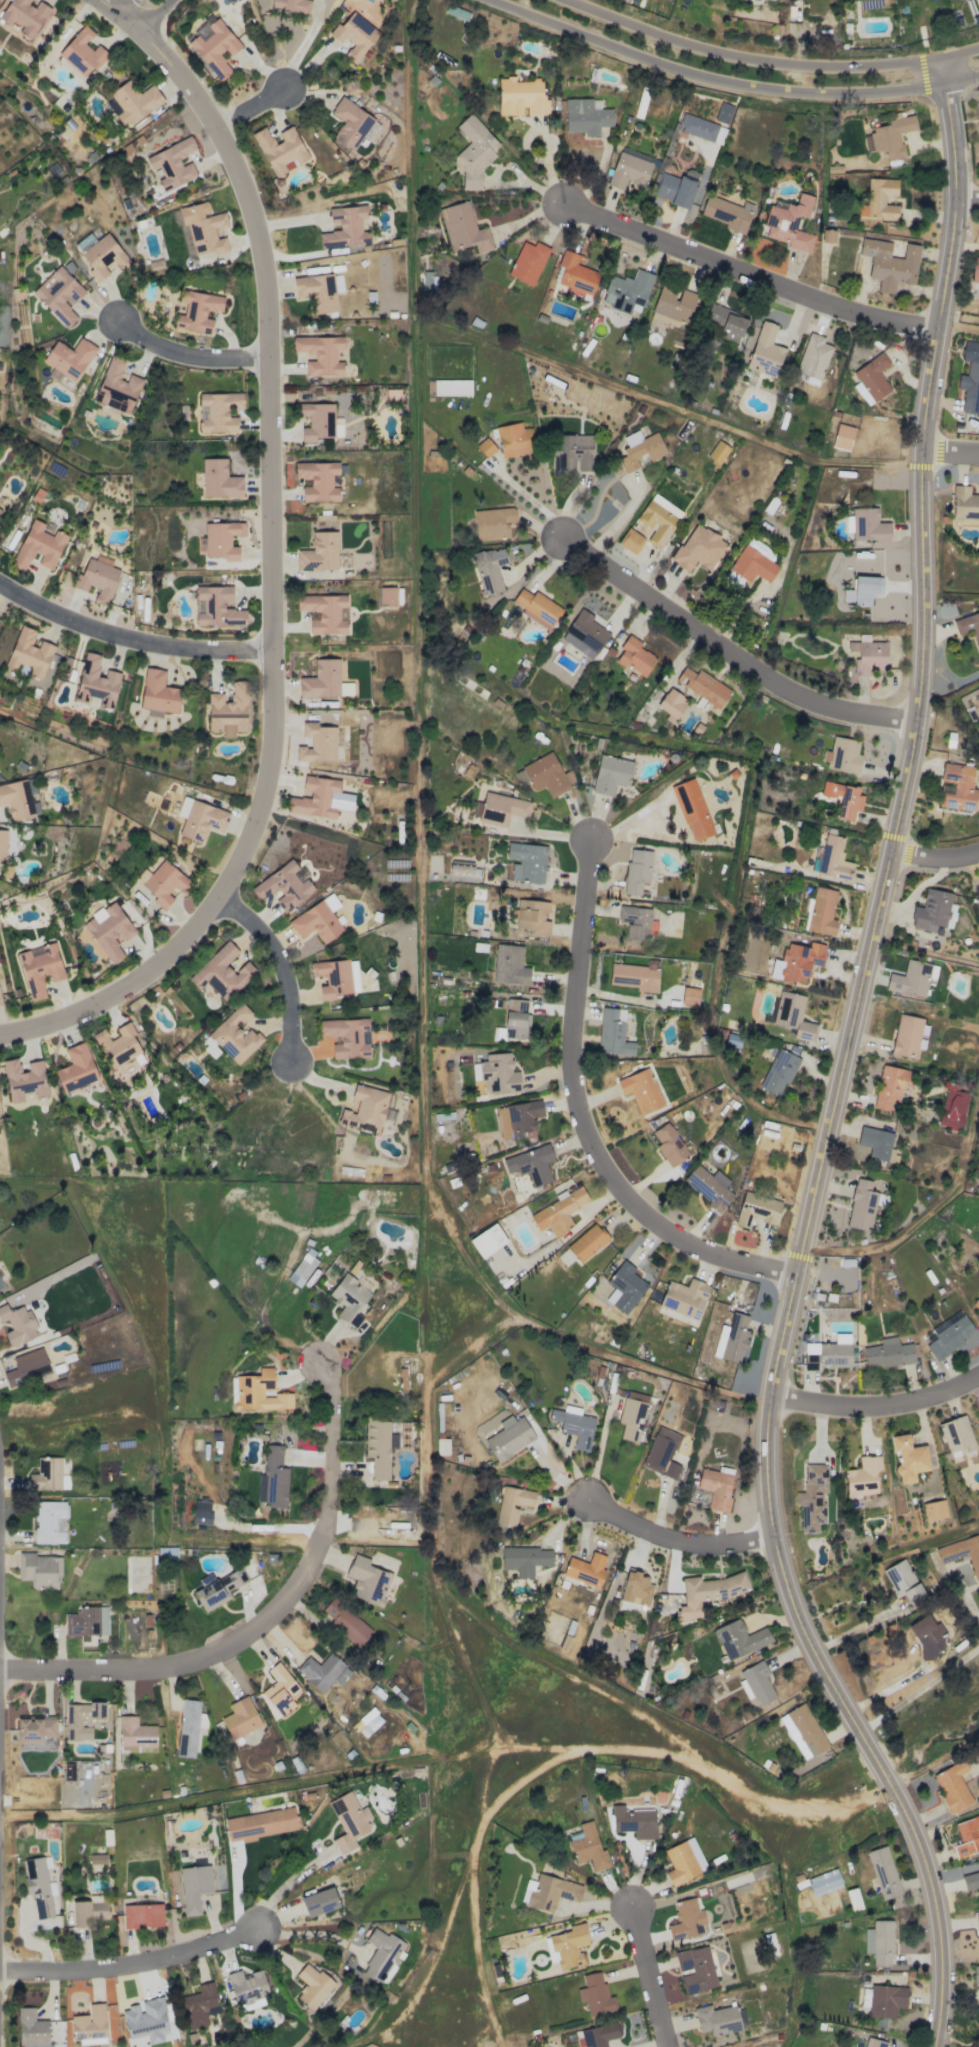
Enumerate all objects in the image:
building: (292, 5)
road: (125, 7)
building: (25, 15)
road: (119, 15)
road: (156, 16)
building: (354, 35)
road: (303, 45)
building: (215, 48)
building: (81, 53)
road: (775, 58)
road: (730, 82)
building: (520, 97)
building: (134, 102)
road: (253, 109)
building: (723, 111)
building: (585, 116)
building: (350, 123)
building: (467, 125)
building: (697, 127)
building: (889, 136)
road: (543, 141)
building: (280, 150)
building: (173, 163)
building: (628, 171)
road: (515, 172)
building: (676, 187)
road: (966, 198)
building: (879, 199)
building: (726, 214)
building: (788, 222)
building: (346, 227)
building: (203, 228)
building: (463, 228)
building: (827, 236)
building: (104, 257)
building: (527, 262)
building: (889, 264)
building: (975, 269)
road: (749, 272)
building: (575, 273)
building: (317, 291)
building: (627, 291)
building: (59, 295)
building: (673, 306)
building: (197, 311)
building: (726, 322)
building: (765, 350)
building: (320, 354)
building: (812, 356)
road: (191, 357)
building: (69, 358)
building: (871, 379)
building: (117, 387)
building: (451, 387)
building: (392, 394)
building: (220, 411)
building: (316, 420)
building: (842, 437)
building: (514, 439)
building: (485, 447)
building: (640, 449)
road: (950, 450)
building: (717, 451)
building: (575, 454)
building: (219, 479)
building: (318, 480)
building: (964, 503)
road: (527, 507)
building: (0, 509)
building: (658, 520)
building: (492, 523)
building: (868, 525)
building: (222, 539)
building: (630, 540)
building: (38, 546)
building: (698, 549)
building: (761, 549)
building: (319, 552)
building: (752, 565)
building: (489, 569)
building: (97, 580)
road: (272, 587)
building: (862, 590)
building: (387, 596)
building: (216, 606)
building: (537, 608)
building: (324, 612)
building: (968, 626)
building: (584, 634)
road: (130, 639)
road: (730, 651)
building: (29, 653)
building: (634, 656)
building: (868, 656)
building: (324, 681)
building: (96, 682)
building: (703, 686)
building: (158, 692)
building: (671, 702)
building: (228, 710)
building: (317, 743)
building: (844, 755)
building: (610, 774)
building: (547, 775)
building: (956, 787)
building: (18, 798)
building: (320, 798)
building: (843, 798)
building: (499, 808)
building: (692, 809)
building: (200, 819)
road: (545, 834)
building: (2, 846)
road: (933, 857)
building: (833, 858)
building: (460, 860)
building: (526, 862)
building: (461, 869)
building: (637, 870)
building: (164, 883)
building: (282, 887)
building: (821, 911)
building: (933, 911)
building: (532, 916)
building: (634, 921)
building: (316, 922)
building: (109, 931)
building: (799, 961)
building: (509, 965)
building: (39, 968)
road: (283, 971)
building: (221, 972)
building: (636, 975)
building: (353, 976)
building: (332, 977)
building: (910, 979)
building: (689, 996)
building: (0, 1003)
building: (793, 1015)
building: (516, 1019)
building: (907, 1031)
building: (612, 1032)
building: (235, 1035)
building: (347, 1037)
building: (733, 1039)
building: (118, 1045)
building: (76, 1068)
road: (839, 1069)
building: (778, 1070)
building: (498, 1073)
building: (24, 1079)
building: (890, 1085)
building: (641, 1090)
building: (366, 1109)
building: (953, 1109)
road: (581, 1118)
building: (518, 1119)
building: (875, 1142)
building: (669, 1144)
building: (531, 1164)
building: (709, 1186)
building: (861, 1205)
building: (756, 1209)
building: (558, 1211)
building: (487, 1240)
building: (587, 1242)
building: (302, 1268)
building: (1, 1286)
building: (624, 1287)
building: (684, 1298)
building: (349, 1299)
building: (976, 1303)
building: (17, 1324)
building: (950, 1337)
building: (731, 1338)
building: (829, 1353)
building: (887, 1353)
building: (27, 1367)
building: (259, 1392)
road: (876, 1403)
building: (632, 1415)
building: (574, 1425)
building: (957, 1436)
building: (509, 1437)
building: (377, 1447)
building: (661, 1452)
road: (598, 1455)
building: (908, 1458)
building: (47, 1476)
building: (863, 1476)
building: (273, 1478)
building: (716, 1487)
building: (812, 1497)
building: (512, 1504)
building: (933, 1510)
building: (201, 1512)
building: (48, 1516)
road: (676, 1537)
building: (167, 1552)
building: (961, 1552)
building: (525, 1559)
building: (585, 1569)
building: (39, 1570)
building: (367, 1580)
building: (903, 1581)
building: (218, 1589)
building: (636, 1589)
building: (708, 1593)
road: (971, 1605)
road: (267, 1617)
building: (87, 1622)
building: (345, 1622)
road: (853, 1629)
building: (926, 1635)
building: (739, 1639)
building: (323, 1671)
building: (756, 1683)
road: (889, 1687)
road: (919, 1688)
building: (278, 1691)
building: (240, 1718)
building: (85, 1719)
building: (370, 1725)
building: (188, 1728)
building: (34, 1729)
building: (803, 1731)
building: (135, 1736)
building: (952, 1786)
road: (211, 1796)
building: (634, 1820)
building: (349, 1821)
building: (261, 1823)
building: (967, 1836)
building: (587, 1846)
building: (876, 1853)
building: (97, 1859)
building: (683, 1861)
building: (970, 1880)
building: (824, 1882)
road: (285, 1885)
building: (39, 1886)
building: (194, 1887)
building: (548, 1892)
building: (319, 1902)
building: (89, 1912)
building: (142, 1915)
building: (686, 1920)
building: (977, 1920)
road: (305, 1932)
building: (879, 1942)
building: (568, 1945)
building: (381, 1954)
road: (129, 1963)
building: (695, 1969)
building: (975, 1973)
road: (649, 1978)
building: (312, 1986)
building: (248, 1987)
building: (595, 1995)
building: (886, 2000)
building: (199, 2005)
building: (716, 2019)
building: (147, 2020)
building: (89, 2023)
building: (31, 2028)
building: (599, 2035)
building: (874, 2043)

